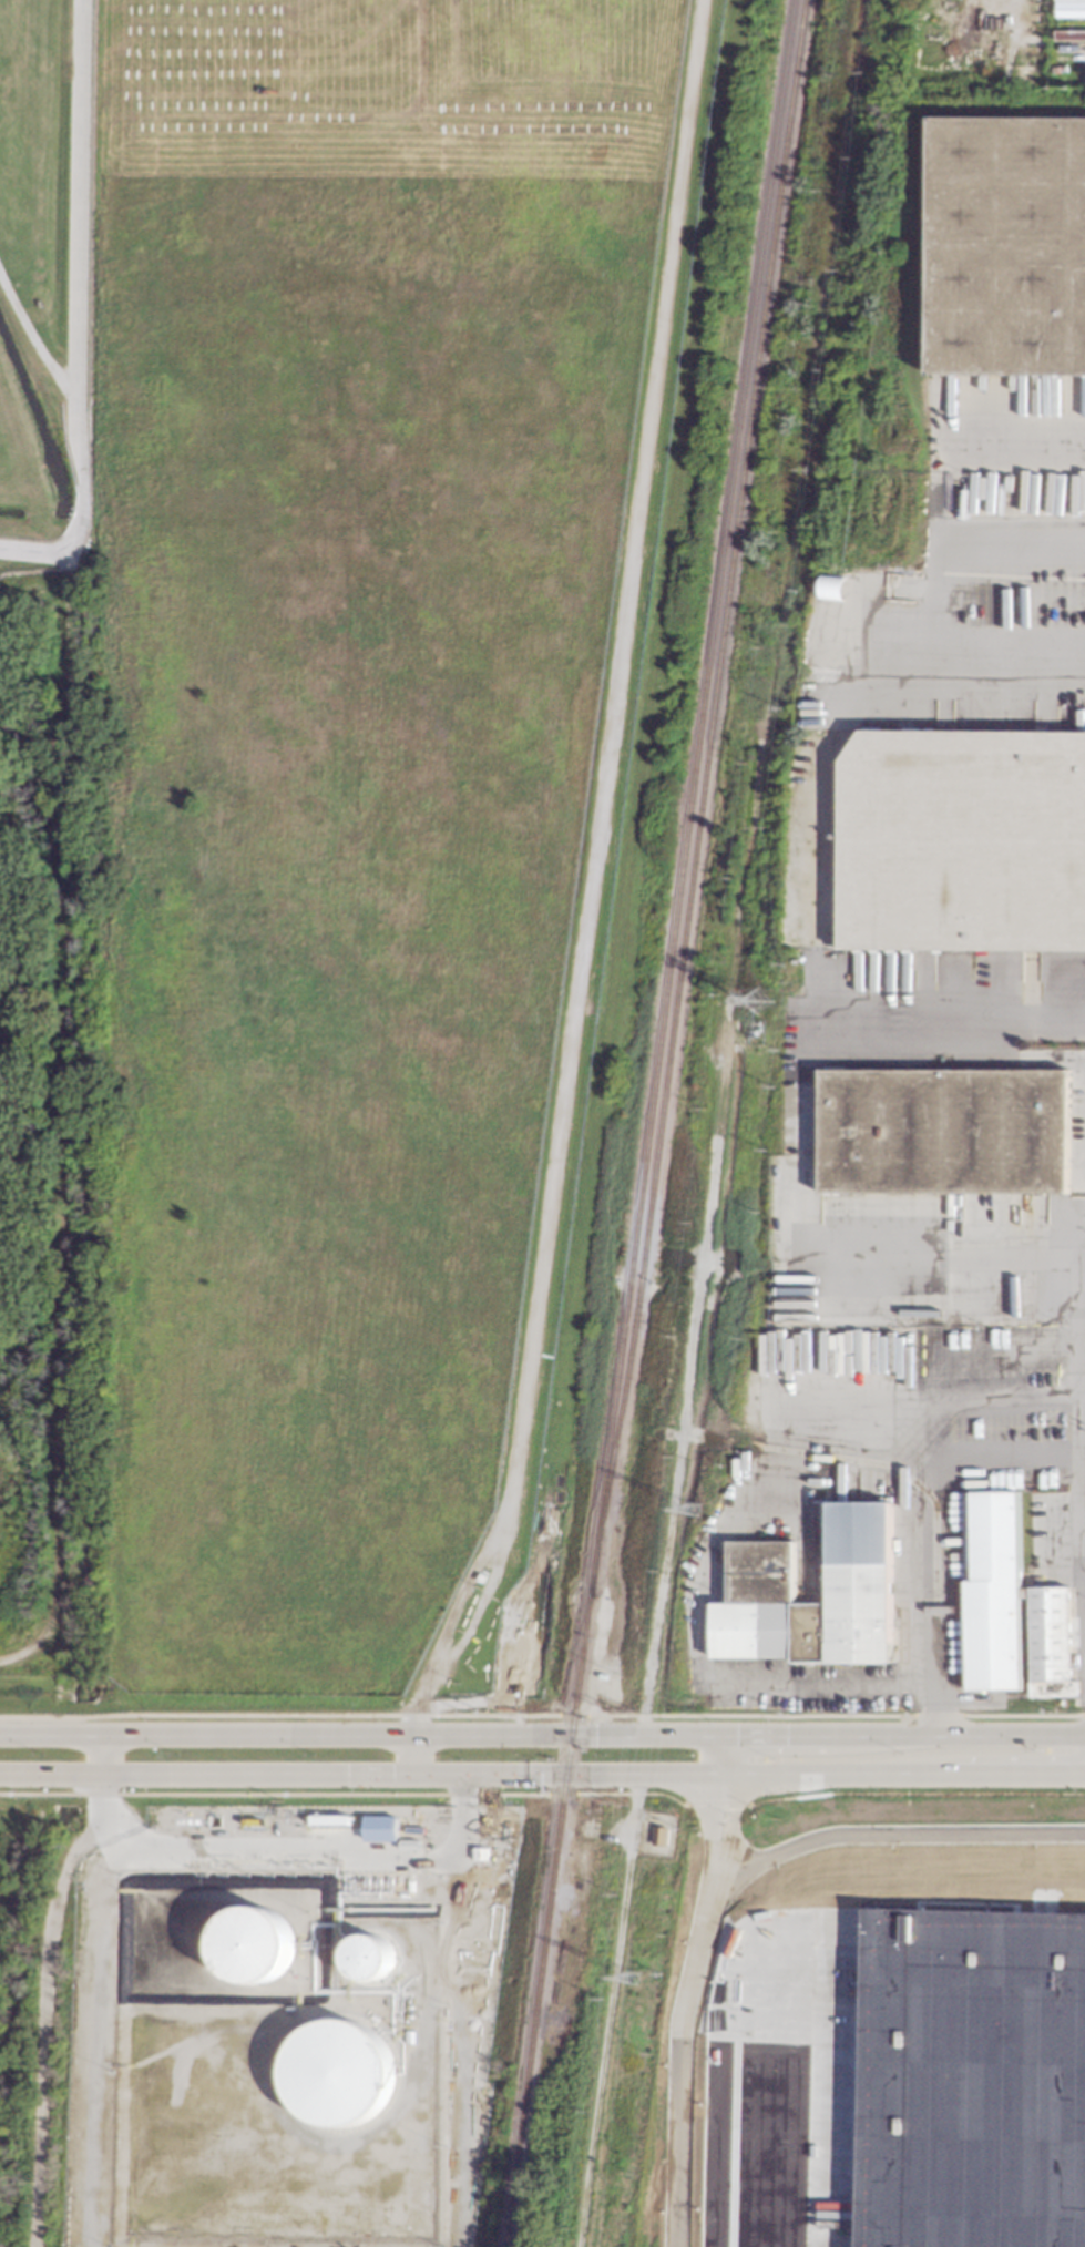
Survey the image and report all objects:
building: (1071, 8)
solar farm: (385, 82)
building: (1007, 244)
road: (78, 309)
road: (32, 335)
road: (945, 484)
building: (832, 586)
road: (971, 677)
railway: (702, 798)
airport: (327, 810)
building: (963, 839)
road: (590, 877)
road: (956, 1023)
road: (64, 1123)
railway: (649, 1123)
building: (943, 1131)
road: (1076, 1306)
road: (905, 1477)
building: (760, 1570)
road: (706, 1581)
building: (1011, 1605)
building: (603, 1675)
road: (542, 1736)
road: (104, 1754)
road: (412, 1755)
road: (482, 1775)
road: (1024, 1776)
road: (719, 1781)
building: (382, 1827)
building: (658, 1834)
building: (441, 1839)
road: (289, 1843)
building: (409, 1843)
road: (719, 1849)
building: (481, 1852)
road: (718, 1876)
building: (255, 1945)
building: (370, 1959)
building: (410, 2032)
building: (339, 2074)
building: (973, 2079)
road: (808, 2085)

